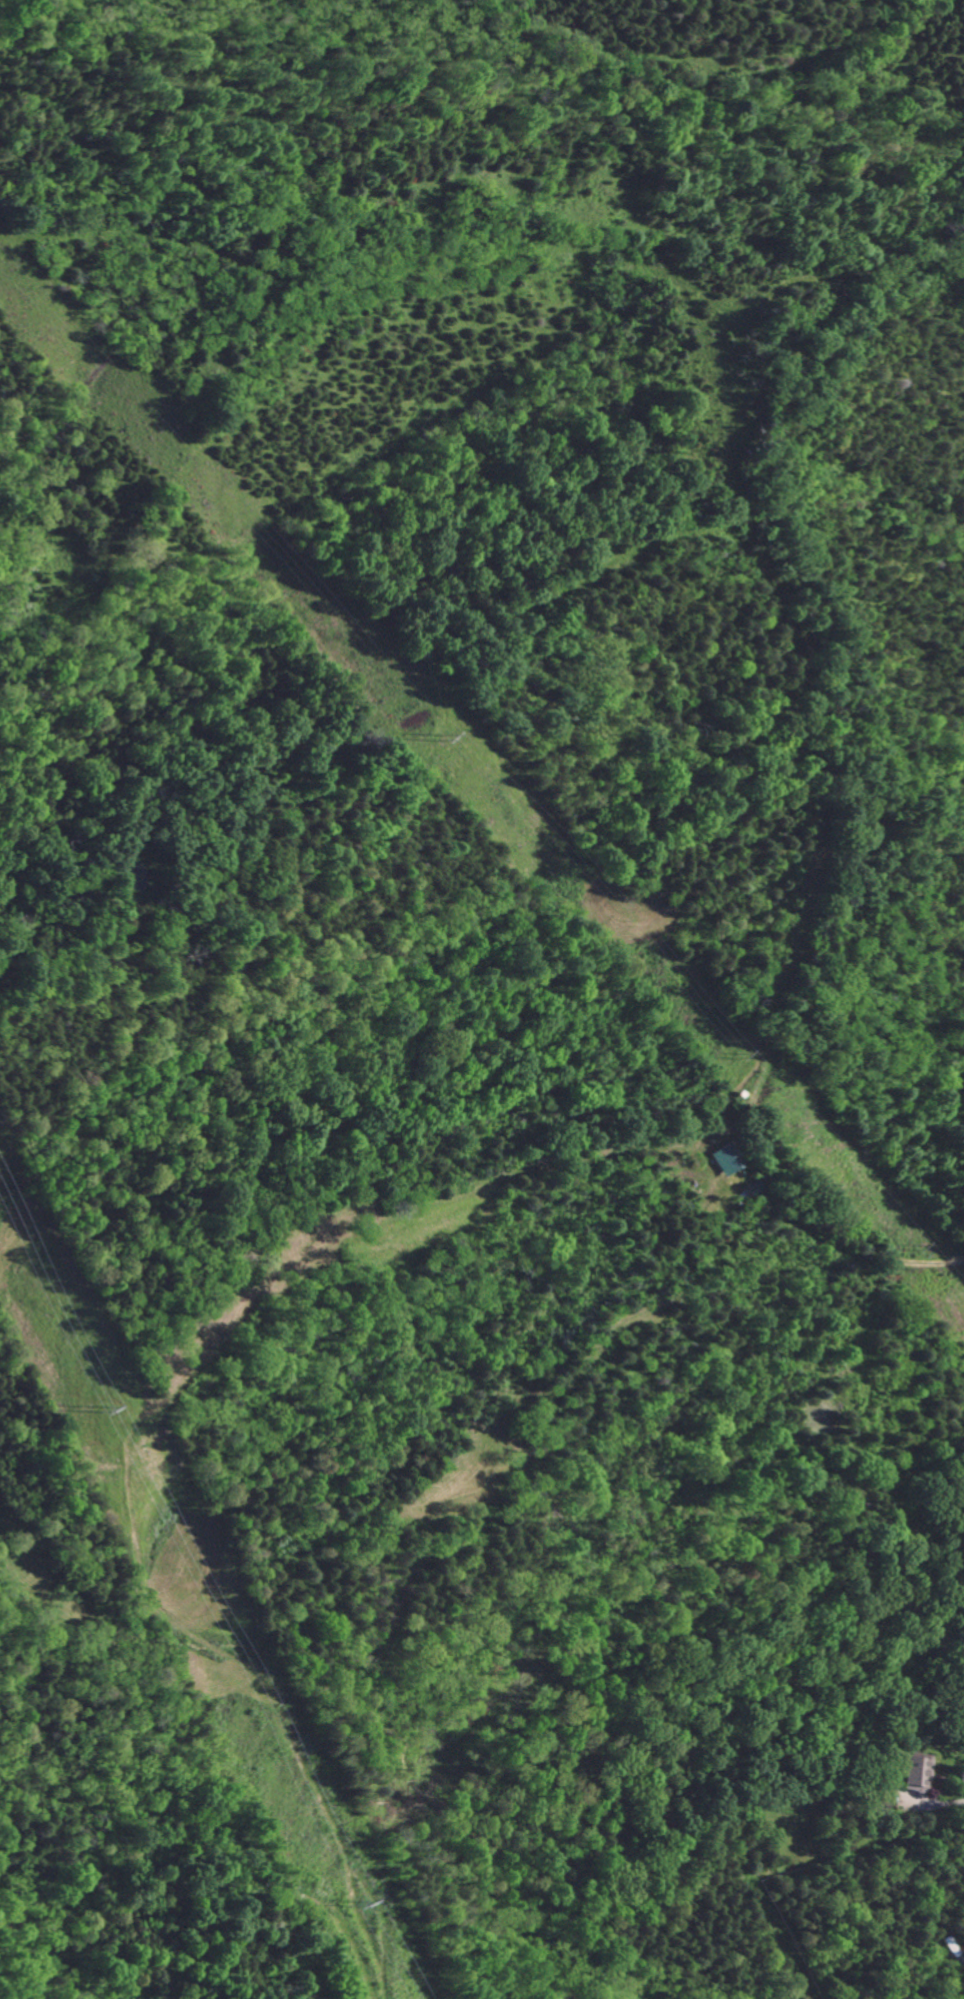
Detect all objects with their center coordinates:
road: (742, 254)
road: (824, 822)
building: (733, 1158)
building: (922, 1770)

